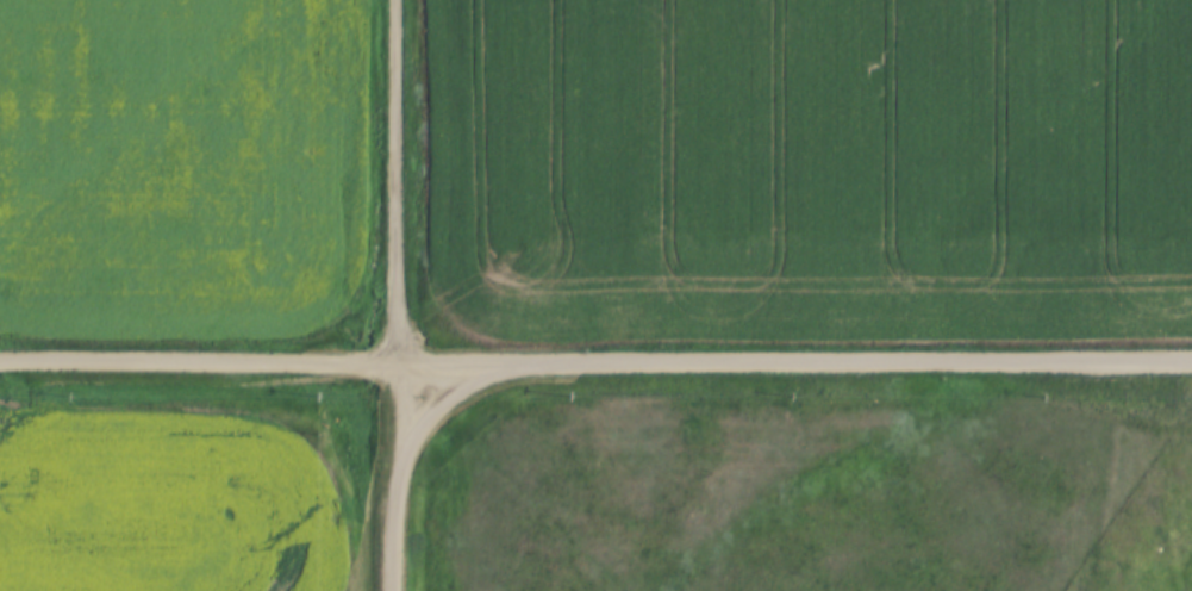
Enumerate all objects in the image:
road: (399, 238)
road: (868, 365)
road: (272, 367)
road: (458, 400)
road: (400, 534)

